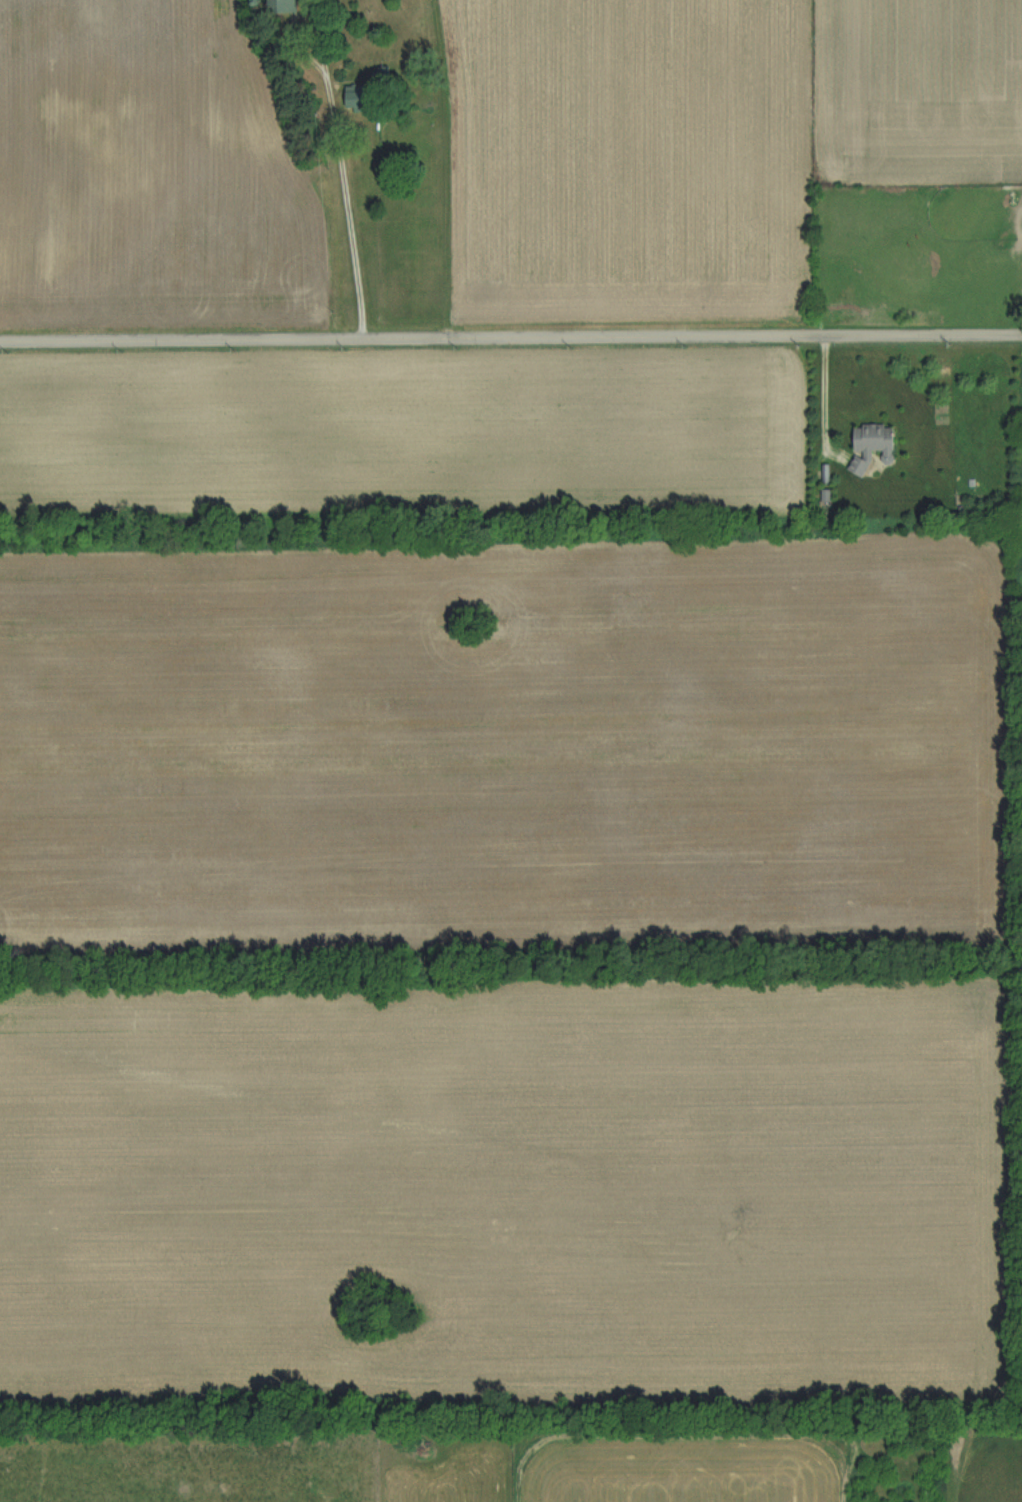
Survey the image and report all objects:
road: (348, 213)
building: (1020, 221)
road: (511, 339)
road: (821, 401)
building: (867, 446)
building: (825, 497)

